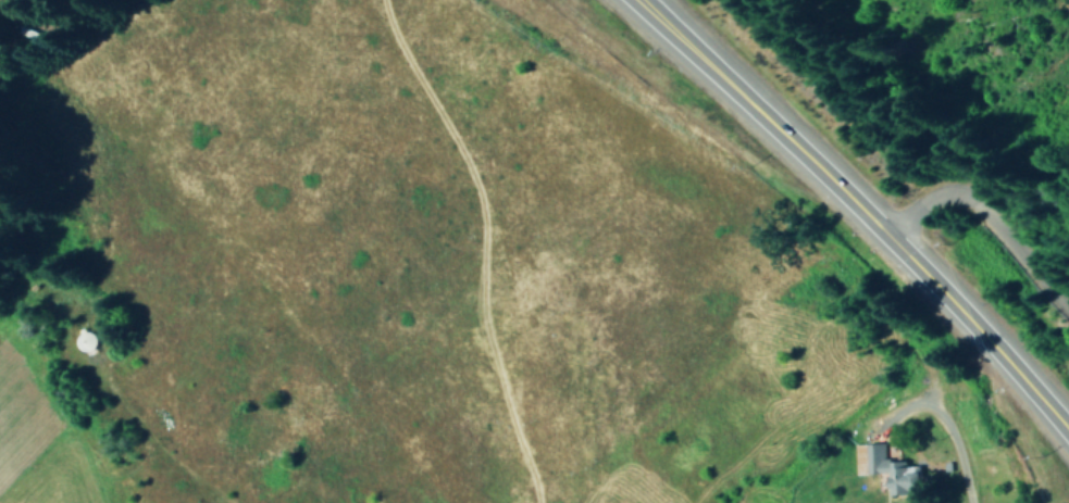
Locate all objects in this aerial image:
road: (983, 206)
road: (853, 209)
crop: (457, 224)
crop: (43, 425)
building: (890, 469)

